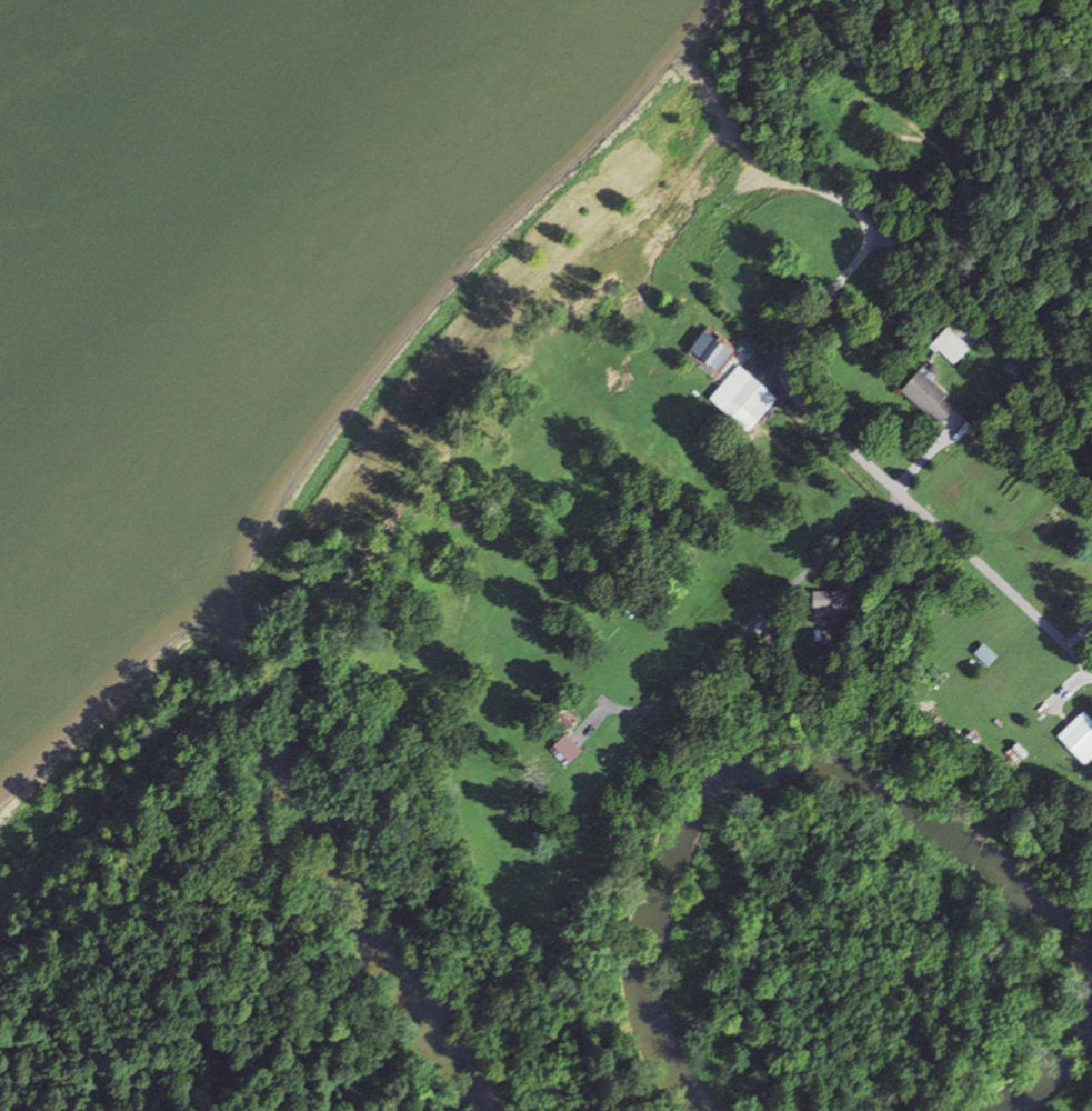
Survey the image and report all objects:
road: (799, 183)
road: (801, 401)
road: (805, 584)
road: (1026, 604)

